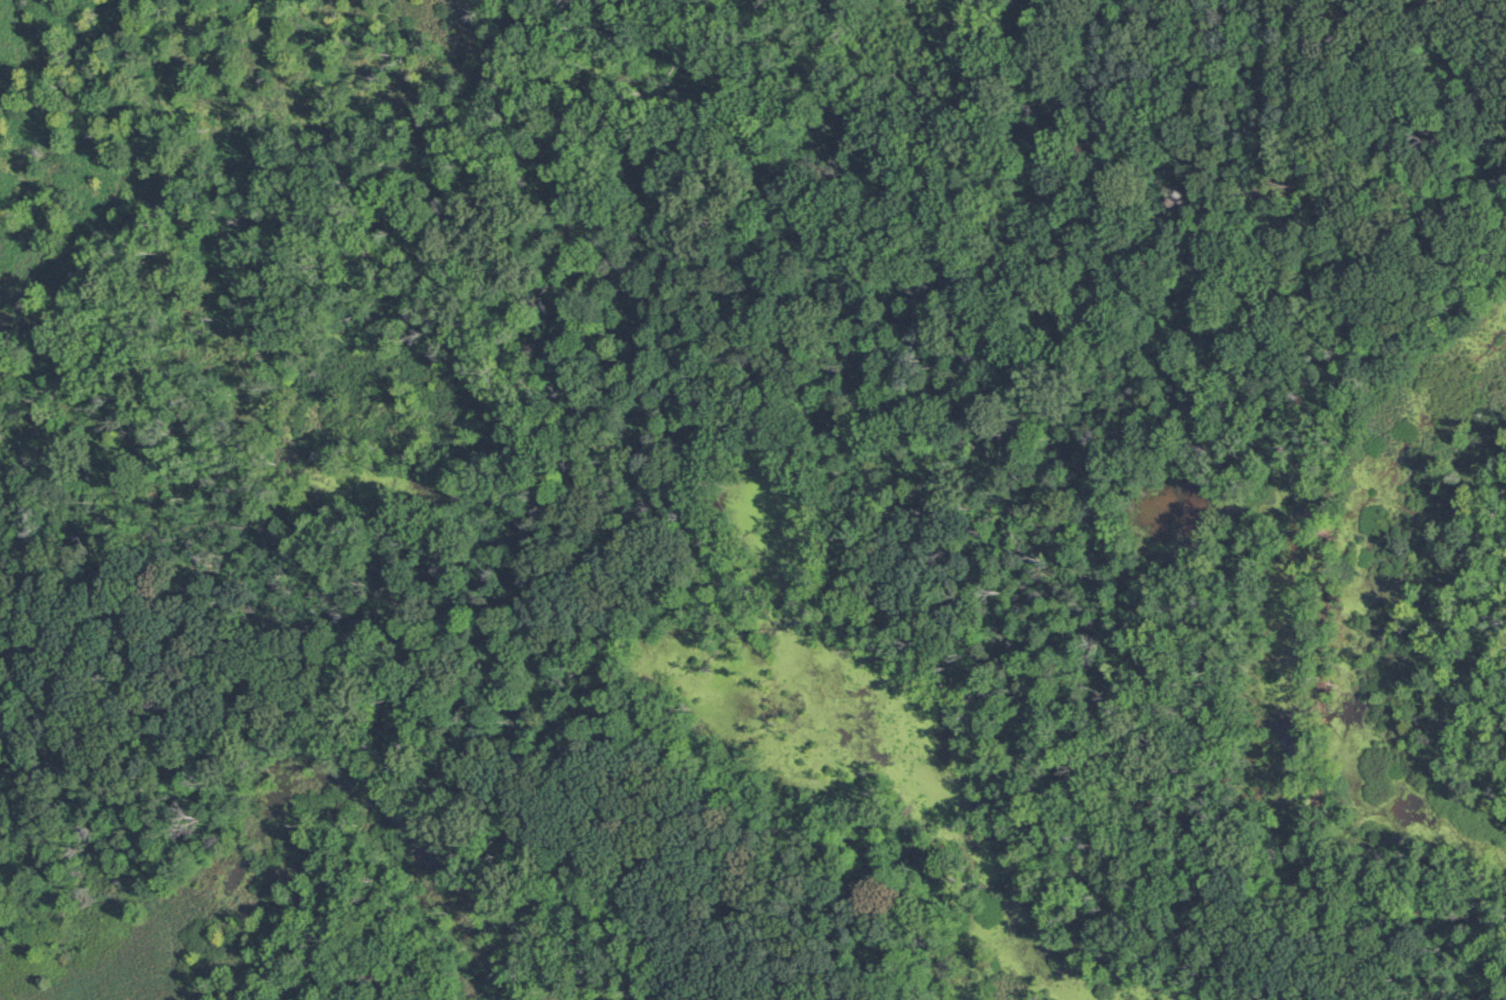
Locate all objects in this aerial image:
road: (1313, 501)

